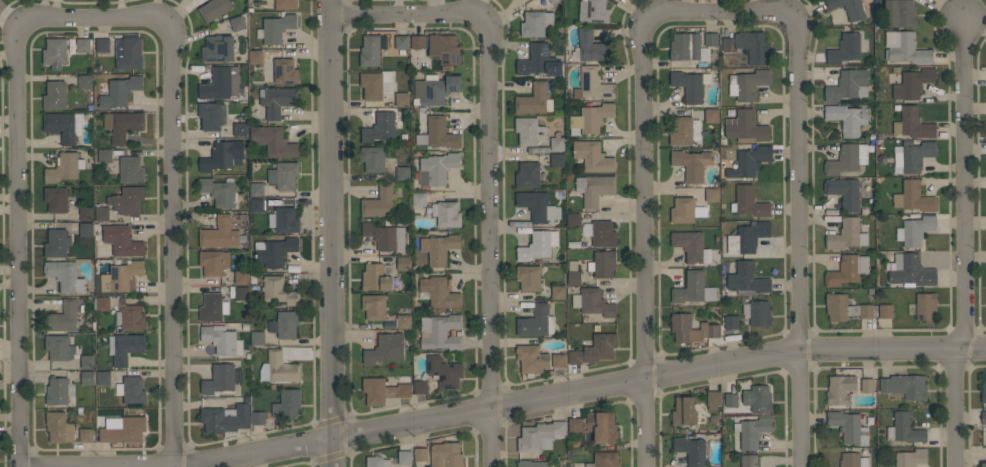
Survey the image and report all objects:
road: (346, 1)
building: (553, 1)
building: (286, 5)
building: (848, 8)
building: (214, 9)
building: (593, 11)
building: (901, 13)
building: (237, 23)
building: (535, 23)
building: (276, 29)
building: (711, 39)
building: (401, 42)
building: (418, 42)
building: (83, 45)
building: (103, 45)
building: (685, 46)
building: (749, 46)
building: (590, 47)
building: (218, 48)
building: (845, 48)
building: (904, 48)
building: (372, 49)
building: (444, 49)
building: (128, 51)
building: (55, 52)
building: (256, 57)
building: (539, 61)
building: (285, 71)
building: (85, 82)
building: (221, 83)
building: (913, 83)
building: (593, 84)
building: (747, 84)
building: (376, 85)
building: (688, 85)
building: (847, 85)
building: (435, 89)
building: (120, 91)
building: (54, 95)
building: (402, 99)
building: (277, 100)
building: (534, 100)
building: (711, 115)
building: (212, 116)
building: (847, 118)
building: (591, 119)
building: (913, 123)
building: (123, 124)
building: (61, 126)
building: (380, 127)
building: (746, 127)
building: (240, 129)
building: (529, 130)
building: (681, 131)
building: (438, 134)
building: (274, 141)
building: (557, 143)
building: (917, 155)
building: (104, 156)
building: (223, 156)
building: (593, 156)
building: (373, 158)
building: (847, 159)
building: (557, 160)
building: (749, 161)
building: (692, 163)
building: (64, 167)
building: (437, 168)
road: (485, 168)
building: (131, 169)
road: (171, 169)
road: (644, 170)
building: (403, 173)
building: (284, 175)
building: (527, 175)
building: (257, 189)
building: (594, 189)
building: (219, 191)
building: (844, 192)
building: (711, 194)
building: (913, 197)
building: (419, 198)
building: (56, 199)
building: (127, 200)
building: (379, 202)
building: (748, 202)
building: (257, 205)
building: (538, 206)
building: (686, 210)
building: (86, 213)
building: (102, 213)
building: (446, 213)
building: (284, 219)
building: (573, 219)
building: (86, 230)
building: (915, 230)
building: (220, 233)
road: (331, 233)
building: (603, 233)
building: (847, 235)
building: (385, 236)
building: (747, 237)
building: (122, 241)
building: (57, 243)
road: (957, 243)
road: (793, 244)
road: (19, 245)
building: (538, 245)
building: (689, 245)
building: (439, 248)
building: (274, 251)
building: (213, 262)
building: (403, 263)
building: (602, 263)
building: (847, 270)
building: (910, 270)
building: (65, 276)
building: (122, 277)
building: (241, 277)
building: (377, 277)
building: (574, 277)
building: (529, 278)
building: (747, 278)
building: (694, 289)
building: (277, 290)
building: (558, 292)
building: (241, 293)
building: (440, 293)
building: (593, 303)
building: (103, 304)
building: (374, 306)
building: (926, 306)
building: (212, 307)
building: (846, 308)
building: (885, 311)
building: (757, 312)
building: (130, 316)
building: (63, 317)
building: (403, 321)
building: (537, 321)
building: (731, 322)
building: (285, 324)
building: (691, 329)
building: (440, 332)
building: (258, 338)
building: (221, 339)
building: (59, 347)
building: (125, 347)
building: (385, 349)
building: (595, 349)
building: (532, 358)
building: (558, 360)
building: (87, 362)
building: (279, 368)
building: (444, 372)
building: (88, 378)
building: (103, 378)
building: (221, 378)
building: (867, 385)
building: (905, 386)
building: (420, 387)
building: (404, 389)
building: (840, 389)
building: (131, 390)
building: (377, 390)
building: (983, 390)
building: (57, 391)
building: (758, 398)
building: (713, 399)
building: (730, 400)
road: (521, 403)
building: (288, 404)
building: (684, 411)
building: (984, 417)
building: (258, 418)
building: (225, 419)
building: (575, 424)
building: (848, 426)
building: (59, 427)
building: (602, 427)
building: (123, 429)
building: (904, 429)
building: (751, 431)
building: (86, 435)
building: (540, 436)
building: (690, 450)
building: (421, 454)
building: (446, 455)
building: (405, 457)
building: (911, 457)
building: (604, 460)
building: (853, 460)
building: (374, 461)
building: (749, 461)
building: (533, 463)
building: (983, 465)

